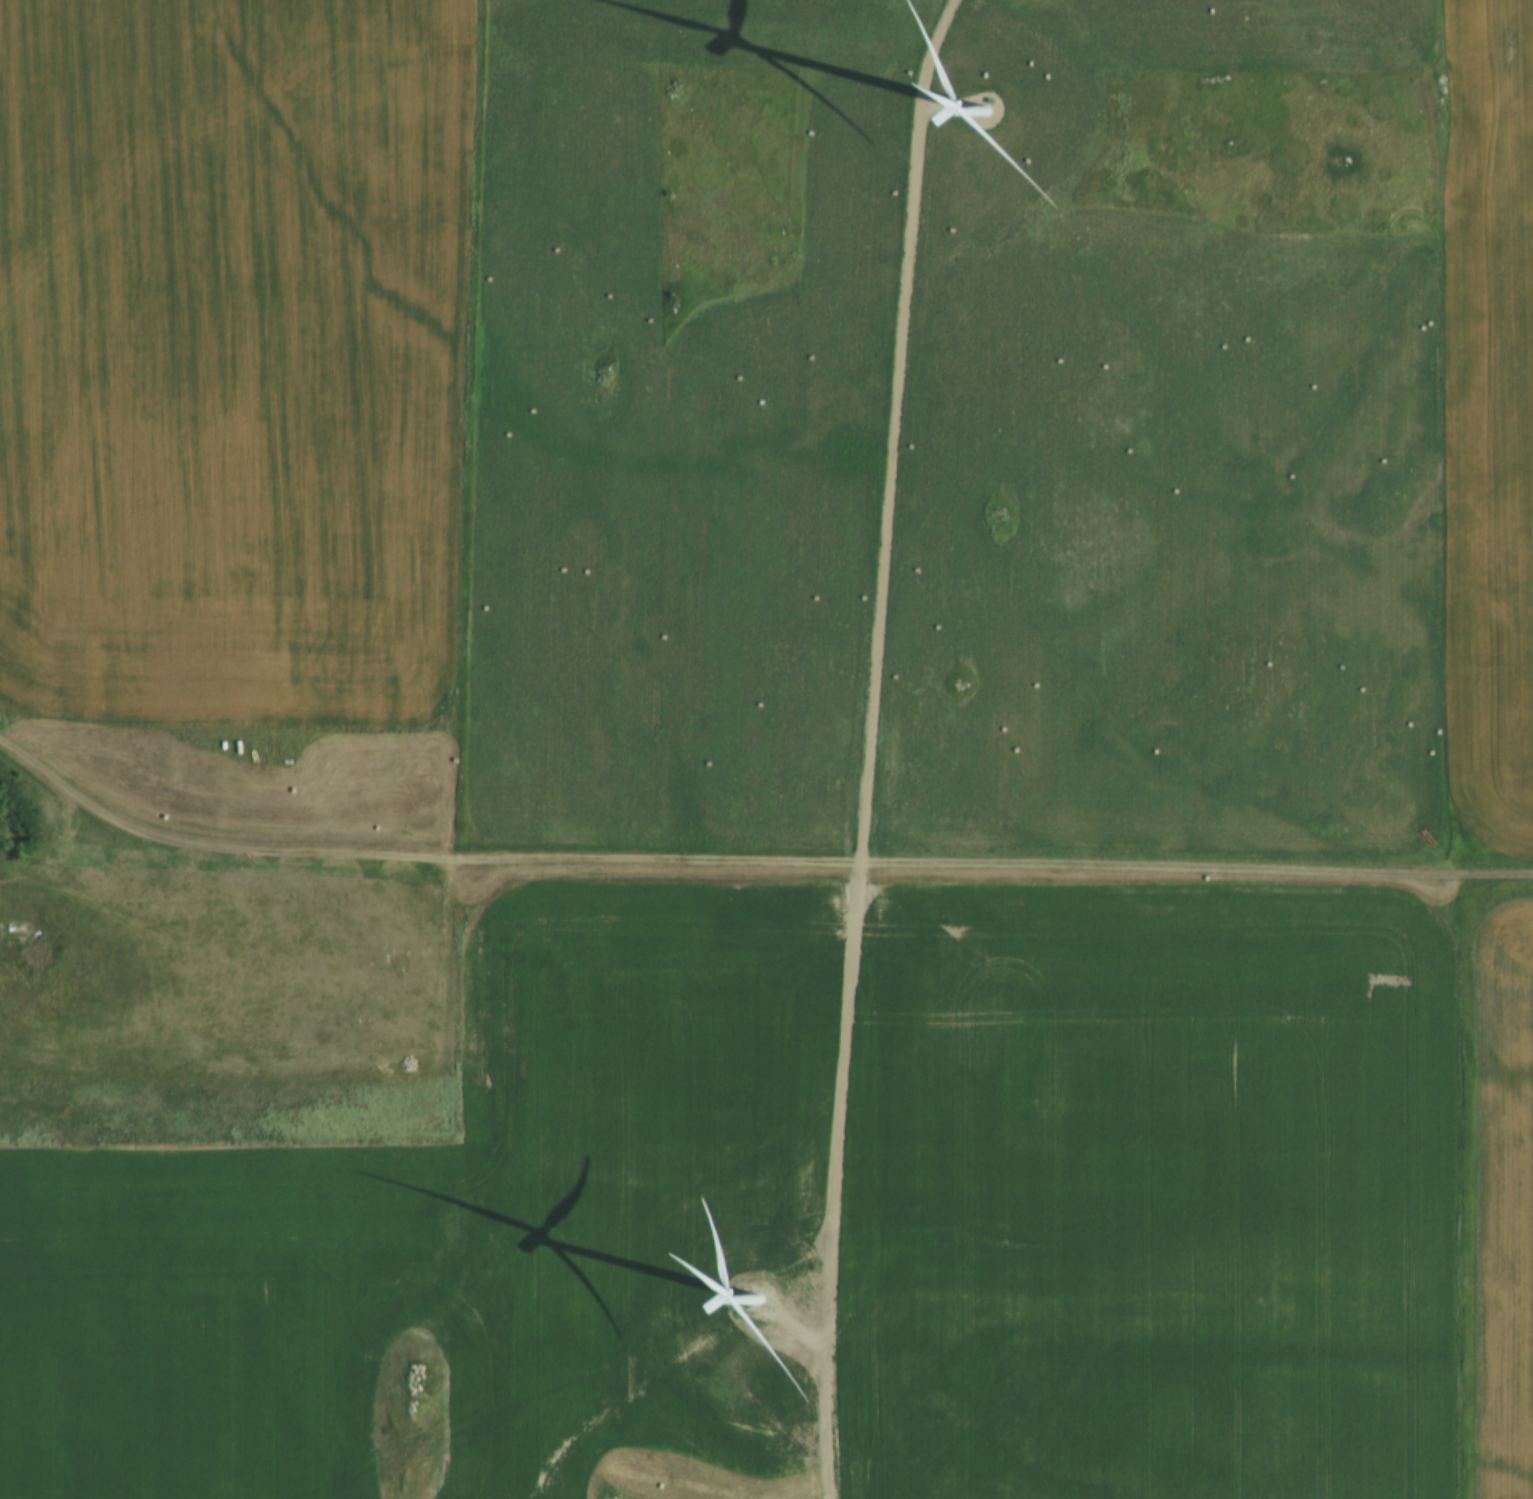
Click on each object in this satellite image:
wind turbine: (982, 115)
road: (751, 860)
wind turbine: (757, 1298)

